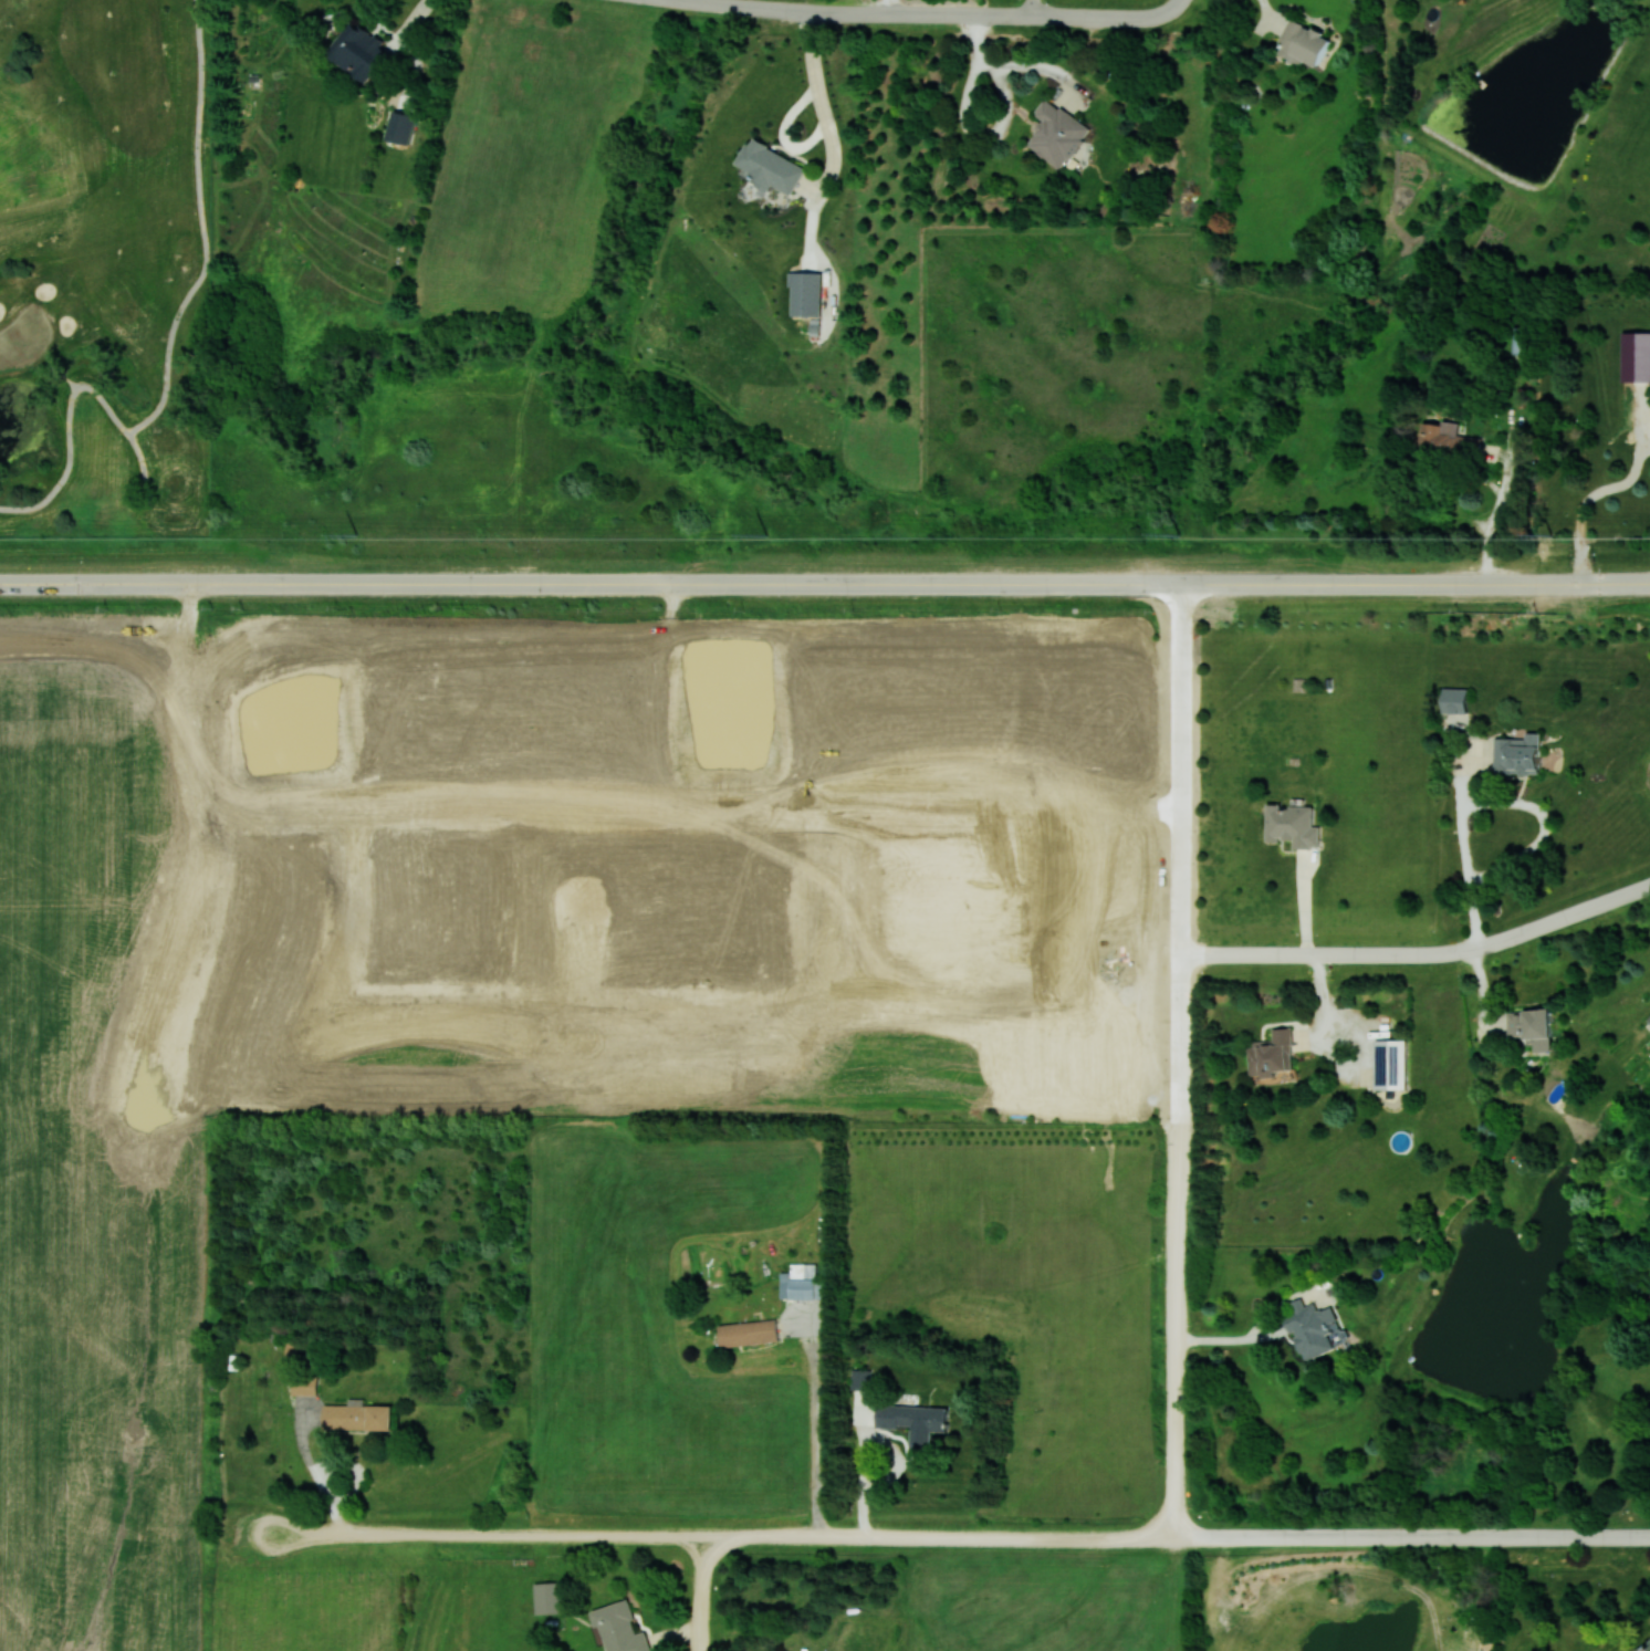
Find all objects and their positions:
road: (891, 7)
road: (1025, 8)
road: (1268, 13)
road: (928, 14)
building: (1303, 43)
building: (361, 51)
road: (822, 125)
building: (400, 126)
building: (1057, 133)
building: (771, 167)
building: (806, 292)
building: (1636, 356)
building: (1448, 440)
road: (1494, 511)
power tower: (355, 533)
power tower: (1178, 533)
power tower: (765, 534)
power tower: (1550, 534)
road: (1176, 634)
building: (1455, 700)
building: (1517, 754)
road: (1484, 801)
building: (1292, 825)
road: (1177, 879)
road: (1419, 954)
road: (1330, 1000)
building: (1649, 1020)
building: (1532, 1026)
building: (1272, 1054)
building: (1391, 1064)
building: (800, 1282)
road: (1174, 1326)
building: (1313, 1326)
building: (749, 1333)
road: (1235, 1339)
building: (860, 1379)
building: (304, 1386)
building: (357, 1415)
road: (815, 1420)
building: (915, 1421)
road: (859, 1463)
road: (899, 1463)
road: (719, 1536)
road: (1411, 1536)
road: (701, 1593)
building: (549, 1597)
building: (620, 1628)
building: (1644, 1647)

